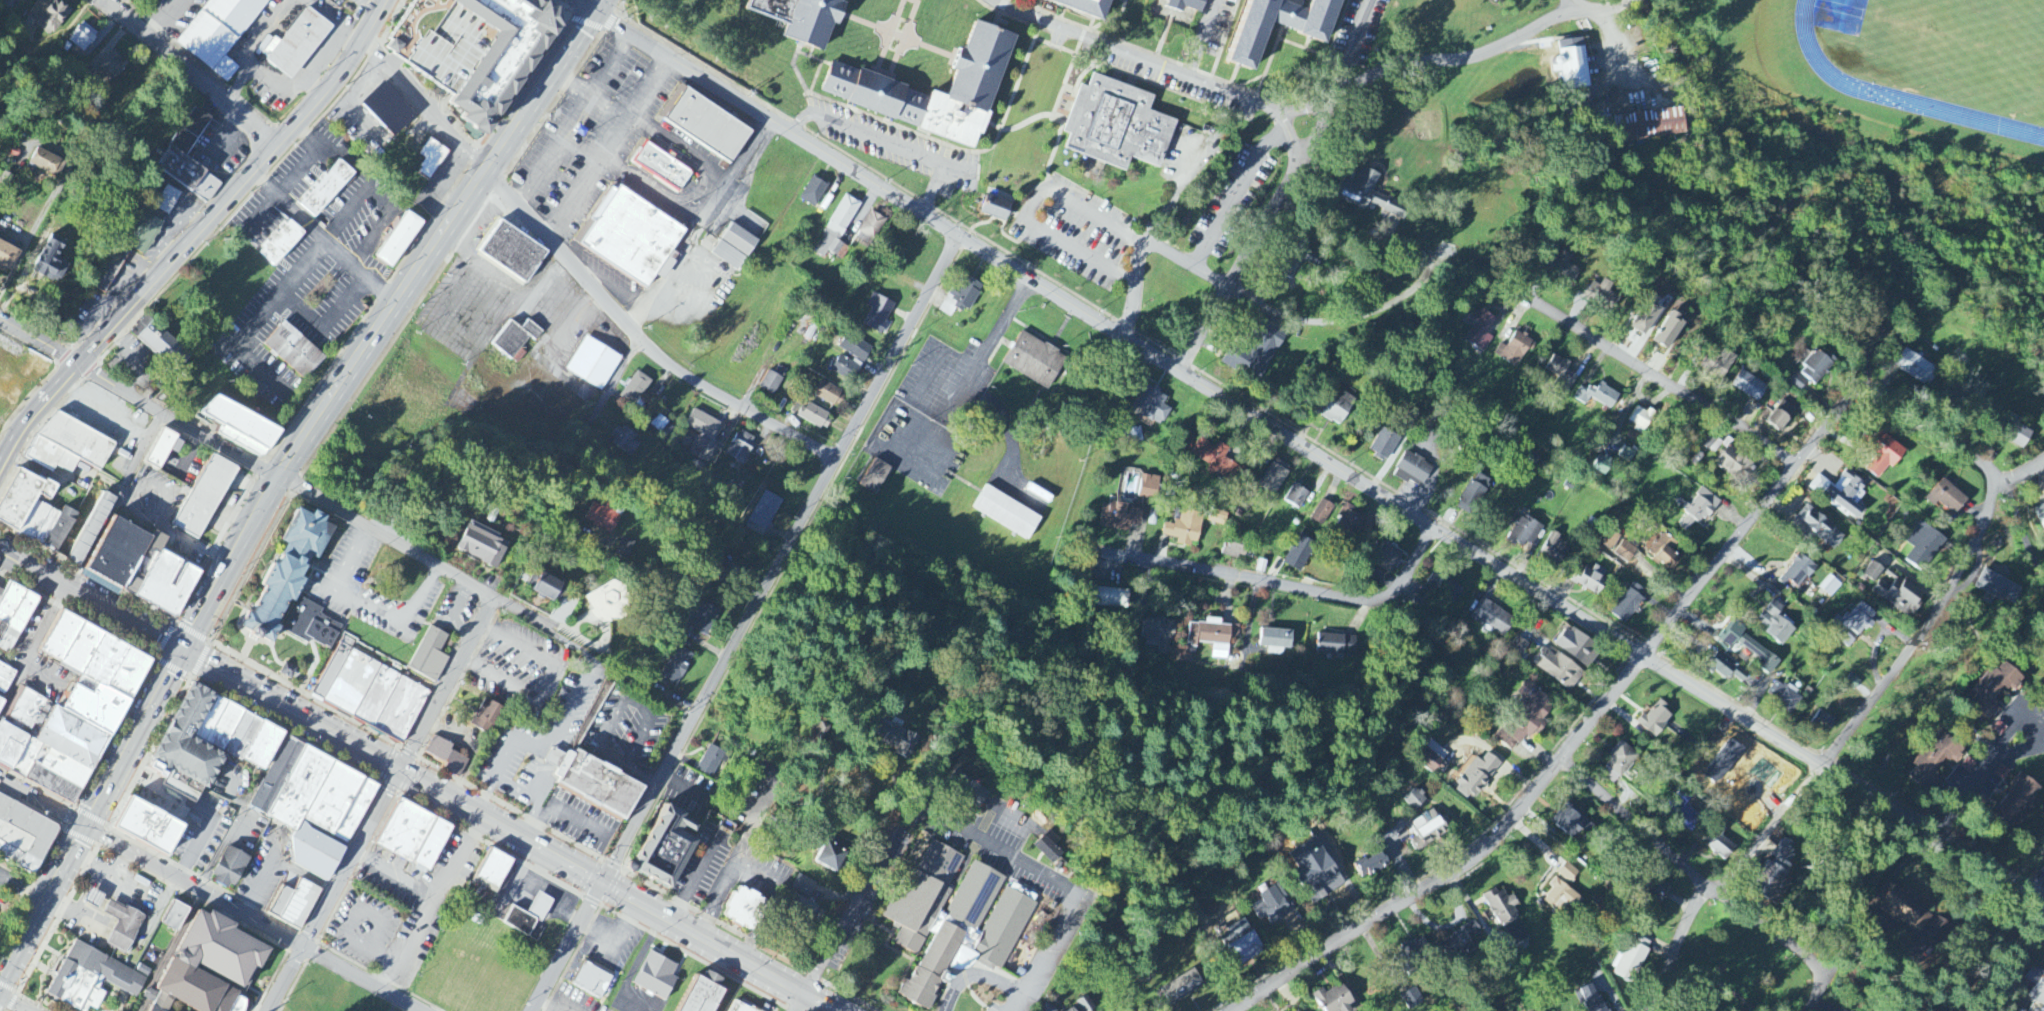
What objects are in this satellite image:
building: (144, 0)
building: (1499, 0)
road: (916, 1)
building: (15, 2)
road: (1599, 2)
building: (1186, 4)
road: (587, 5)
road: (600, 5)
building: (1087, 6)
traffic signals: (597, 11)
road: (1000, 11)
building: (801, 16)
building: (52, 17)
road: (1118, 23)
building: (218, 31)
building: (1316, 31)
road: (901, 35)
building: (82, 38)
road: (1202, 38)
building: (298, 41)
road: (576, 41)
building: (473, 49)
road: (1456, 59)
building: (1572, 65)
building: (113, 67)
road: (1164, 67)
road: (886, 71)
road: (192, 72)
building: (977, 74)
parking lot: (1170, 77)
track: (1824, 79)
road: (1333, 83)
road: (426, 105)
building: (389, 108)
road: (1301, 108)
road: (575, 119)
road: (1025, 122)
building: (706, 123)
building: (1117, 123)
building: (1652, 125)
parking lot: (591, 132)
building: (185, 139)
parking lot: (895, 144)
road: (607, 147)
road: (958, 148)
building: (432, 158)
building: (47, 163)
building: (662, 165)
road: (965, 169)
road: (734, 171)
road: (1029, 173)
road: (1180, 186)
building: (325, 187)
road: (934, 188)
building: (814, 192)
road: (1237, 193)
road: (707, 194)
building: (1372, 196)
road: (1063, 197)
building: (167, 201)
building: (994, 204)
building: (872, 226)
building: (838, 229)
road: (198, 234)
building: (143, 235)
building: (632, 235)
building: (397, 238)
road: (325, 241)
building: (739, 241)
building: (281, 242)
road: (1332, 246)
building: (511, 251)
road: (562, 257)
building: (729, 257)
building: (7, 258)
building: (49, 261)
building: (1304, 262)
building: (1563, 266)
road: (1237, 269)
road: (1134, 285)
building: (1600, 291)
building: (962, 298)
road: (1369, 311)
building: (878, 314)
building: (1646, 319)
building: (1479, 329)
building: (1669, 331)
building: (517, 336)
road: (38, 342)
building: (156, 343)
building: (295, 348)
building: (855, 349)
building: (1514, 350)
building: (1256, 353)
road: (361, 356)
building: (1035, 361)
building: (594, 362)
building: (1717, 363)
building: (1816, 368)
building: (1915, 368)
building: (845, 369)
road: (1645, 369)
building: (1560, 371)
building: (772, 382)
building: (1798, 382)
building: (1749, 386)
building: (635, 390)
building: (824, 392)
building: (1597, 396)
road: (736, 405)
building: (1152, 405)
road: (954, 406)
building: (1338, 410)
building: (813, 417)
building: (1781, 417)
road: (178, 420)
building: (1641, 420)
building: (658, 424)
road: (589, 425)
building: (703, 425)
building: (239, 427)
road: (1922, 433)
building: (2019, 437)
building: (75, 439)
building: (625, 443)
building: (1384, 445)
building: (741, 448)
building: (706, 451)
building: (49, 456)
building: (177, 457)
road: (1322, 457)
building: (1884, 458)
building: (1215, 461)
building: (1735, 464)
road: (2016, 466)
building: (1413, 469)
road: (830, 475)
building: (875, 477)
building: (1274, 477)
building: (239, 483)
building: (1149, 488)
building: (1842, 492)
road: (1992, 493)
building: (1474, 494)
building: (205, 495)
building: (21, 497)
building: (1297, 497)
building: (1947, 498)
road: (119, 500)
building: (1701, 506)
building: (765, 511)
building: (2041, 512)
building: (1007, 513)
building: (1323, 514)
building: (604, 517)
building: (1120, 517)
building: (1217, 518)
building: (34, 520)
building: (1349, 520)
building: (1687, 524)
building: (75, 525)
building: (1821, 527)
building: (1185, 529)
road: (2016, 529)
building: (1524, 533)
road: (175, 535)
building: (1924, 546)
building: (482, 547)
building: (1237, 547)
building: (1617, 547)
building: (625, 549)
building: (1554, 549)
building: (1664, 551)
building: (1299, 554)
building: (115, 555)
building: (1388, 559)
building: (141, 564)
road: (431, 564)
building: (720, 566)
building: (1798, 572)
building: (1873, 572)
road: (1709, 574)
building: (1590, 579)
road: (1271, 581)
building: (164, 583)
building: (291, 586)
building: (544, 586)
building: (1829, 586)
building: (1445, 587)
building: (1998, 588)
building: (1906, 594)
building: (1108, 598)
road: (92, 599)
building: (1629, 603)
building: (13, 616)
building: (1493, 618)
building: (703, 619)
building: (1775, 624)
building: (1159, 634)
building: (1213, 637)
building: (1276, 641)
building: (1336, 645)
building: (1519, 645)
building: (1749, 647)
building: (1578, 648)
road: (34, 651)
traffic signals: (184, 652)
building: (429, 654)
building: (115, 665)
building: (333, 666)
building: (677, 667)
building: (1726, 669)
building: (1558, 670)
building: (288, 671)
building: (2, 674)
building: (351, 682)
building: (1992, 690)
building: (376, 696)
building: (1784, 698)
building: (0, 701)
building: (93, 705)
building: (401, 708)
road: (291, 711)
building: (28, 715)
building: (486, 717)
building: (1526, 717)
building: (1656, 720)
building: (1823, 722)
building: (821, 733)
building: (241, 742)
road: (545, 742)
building: (899, 742)
building: (182, 744)
building: (51, 750)
building: (447, 753)
building: (1431, 758)
building: (1621, 760)
building: (711, 762)
building: (1935, 762)
road: (1822, 766)
traffic signals: (400, 770)
building: (1478, 777)
road: (1978, 777)
building: (596, 788)
building: (969, 789)
road: (526, 793)
building: (321, 796)
building: (1414, 800)
road: (381, 803)
road: (44, 804)
road: (562, 808)
road: (531, 815)
road: (91, 821)
building: (1571, 823)
traffic signals: (88, 829)
building: (1429, 831)
building: (141, 835)
building: (426, 841)
building: (20, 842)
building: (665, 842)
building: (1720, 847)
building: (1048, 848)
building: (326, 856)
building: (831, 858)
road: (617, 862)
building: (1372, 866)
building: (240, 871)
building: (1314, 871)
building: (492, 872)
building: (1567, 873)
road: (396, 875)
building: (1777, 875)
building: (506, 877)
road: (1052, 878)
road: (1702, 882)
traffic signals: (606, 884)
building: (804, 887)
road: (196, 888)
road: (618, 890)
road: (23, 891)
road: (2036, 891)
building: (1659, 893)
building: (1562, 896)
road: (1405, 898)
building: (94, 899)
road: (433, 904)
building: (745, 905)
building: (304, 906)
road: (858, 906)
building: (1273, 906)
building: (1502, 908)
building: (1905, 908)
building: (529, 916)
building: (174, 918)
building: (954, 920)
building: (122, 928)
building: (1938, 929)
building: (1946, 937)
building: (1463, 942)
building: (1241, 944)
building: (1416, 951)
building: (1630, 963)
park: (1730, 970)
building: (171, 972)
building: (593, 975)
building: (657, 977)
road: (974, 978)
road: (361, 980)
building: (2036, 986)
building: (1182, 988)
building: (702, 994)
building: (1590, 999)
building: (1333, 1000)
building: (1412, 1000)
road: (13, 1003)
road: (804, 1003)
road: (563, 1005)
building: (1085, 1005)
road: (547, 1007)
building: (738, 1007)
building: (1047, 1009)
building: (1072, 1010)

